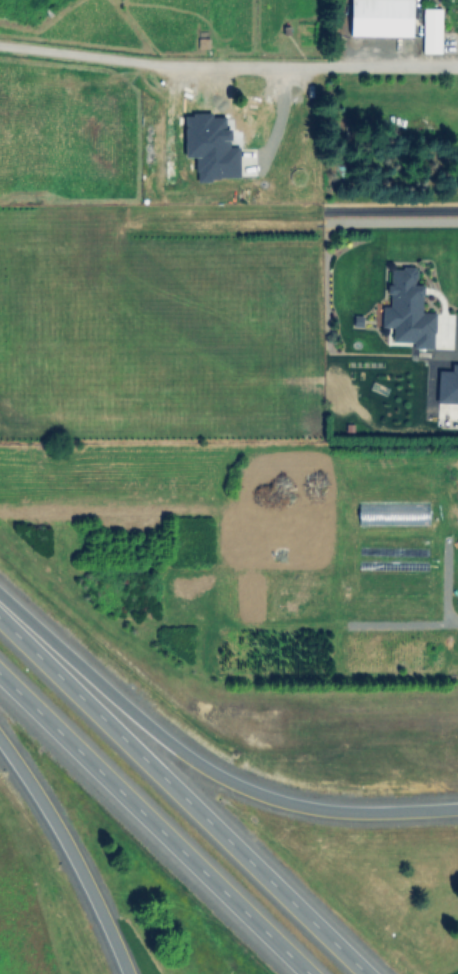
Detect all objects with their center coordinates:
building: (384, 15)
building: (433, 31)
road: (228, 62)
building: (283, 96)
building: (210, 129)
building: (170, 143)
road: (201, 766)
road: (181, 796)
road: (153, 824)
road: (71, 852)

